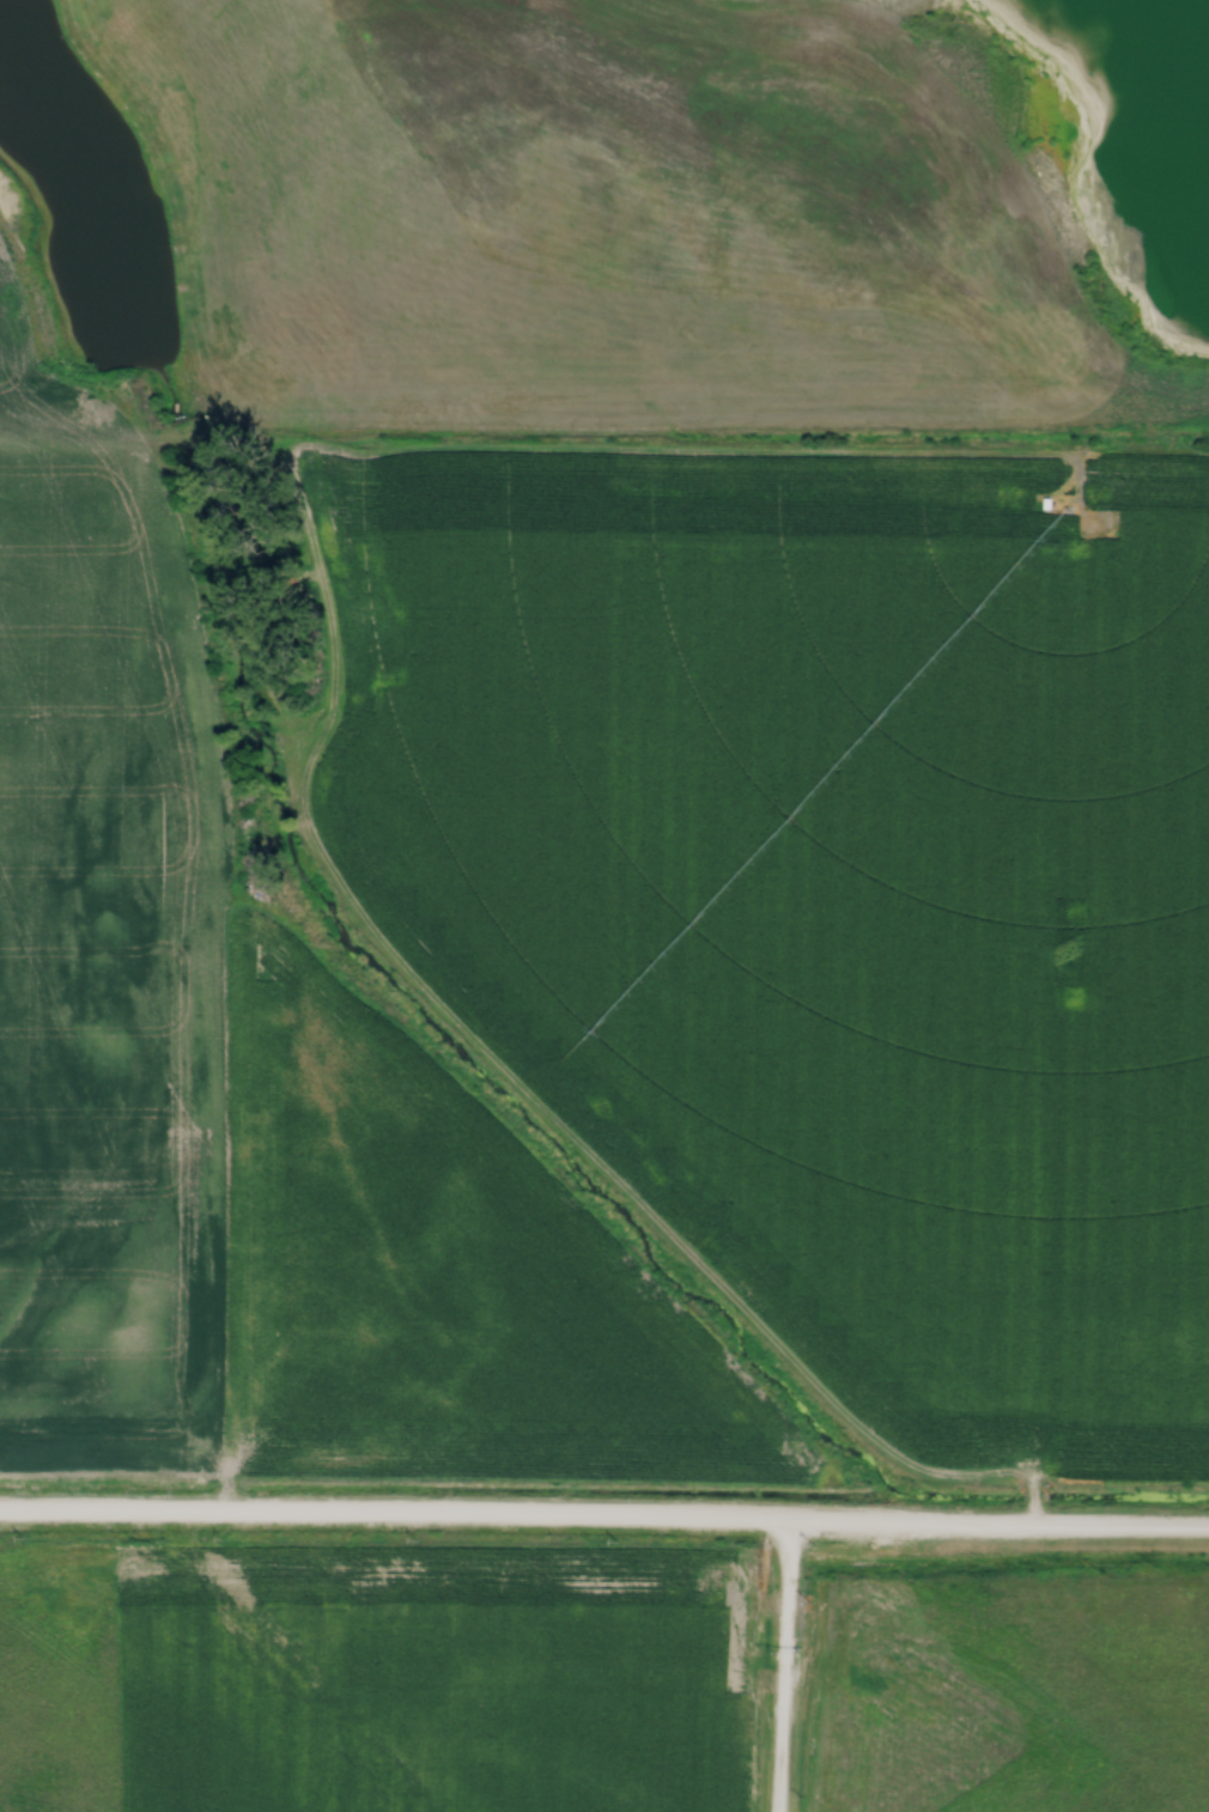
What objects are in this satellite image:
building: (967, 1496)
road: (604, 1520)
road: (785, 1667)

